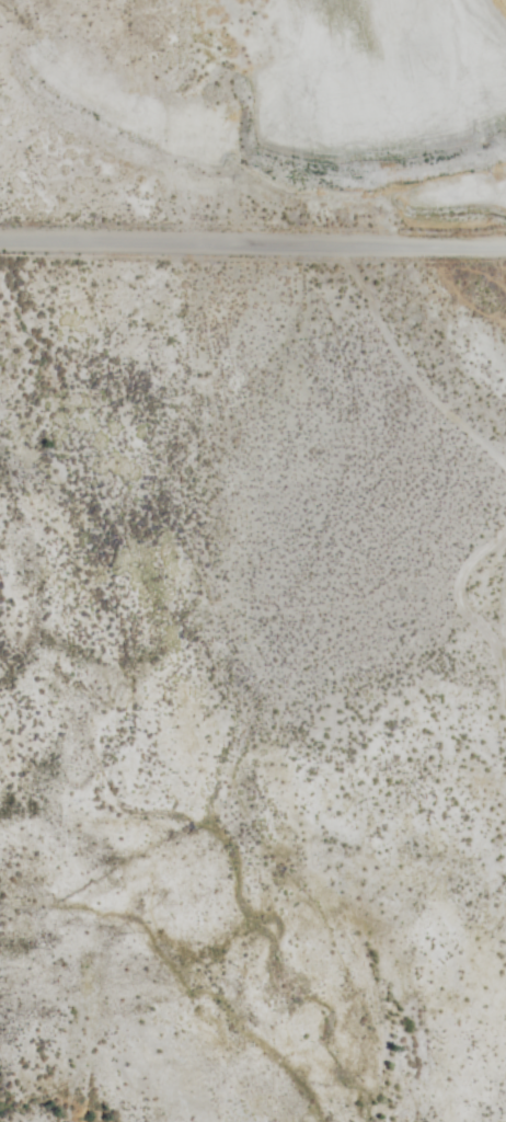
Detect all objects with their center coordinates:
road: (252, 239)

